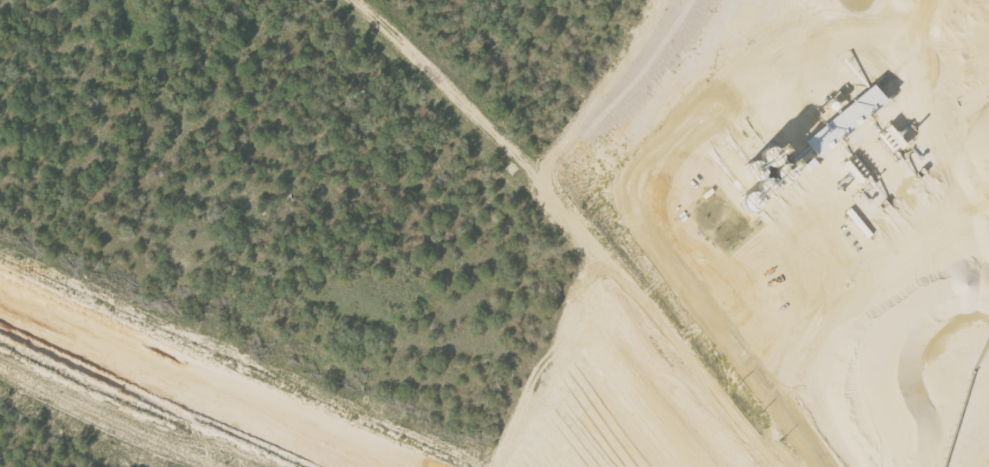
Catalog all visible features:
road: (649, 245)

